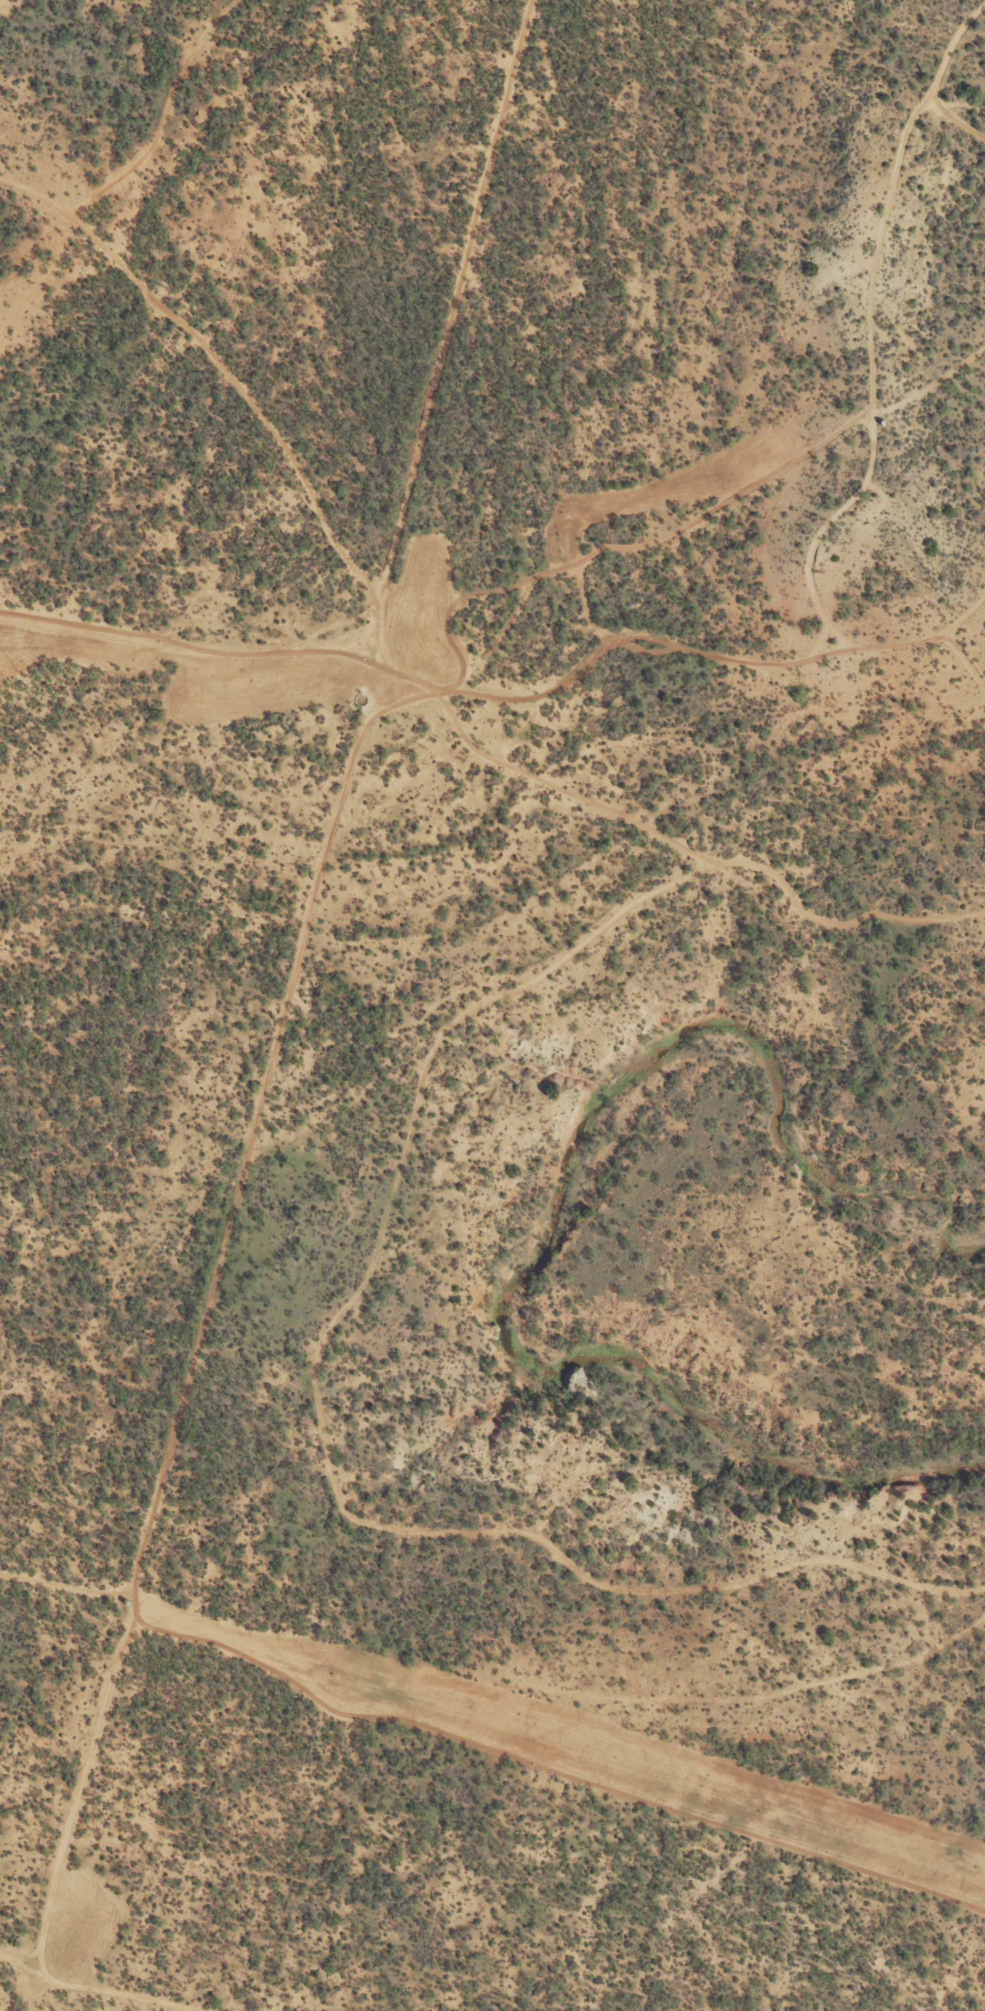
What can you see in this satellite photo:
road: (847, 329)
road: (667, 692)
road: (223, 1169)

